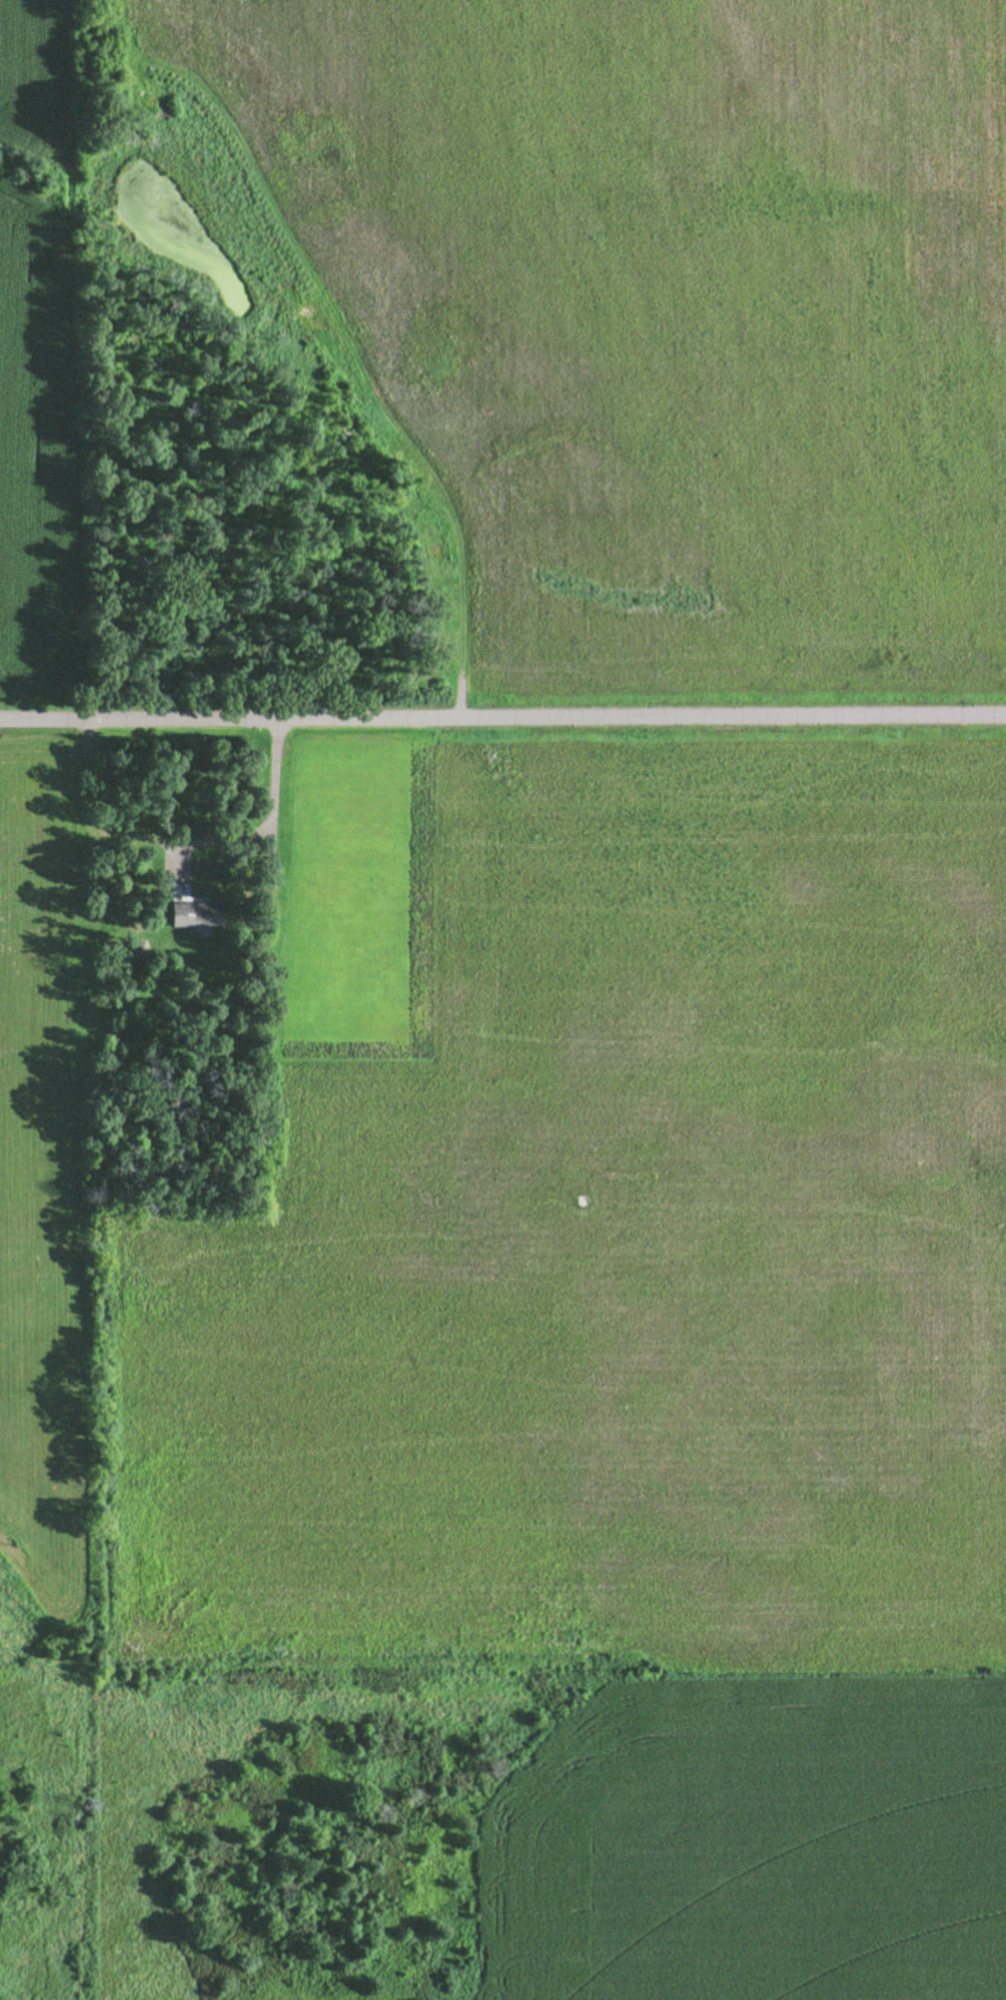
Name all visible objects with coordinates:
road: (503, 713)
road: (271, 802)
building: (196, 913)

